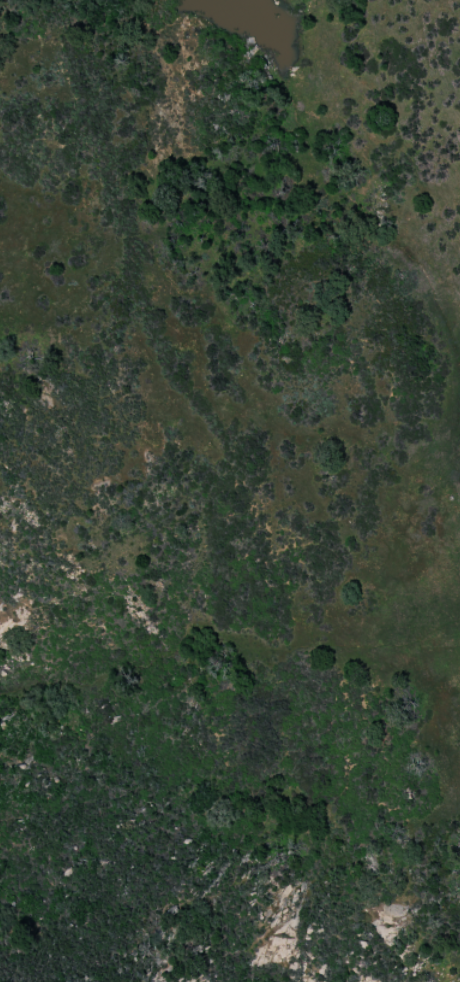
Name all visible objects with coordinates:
park: (230, 491)
road: (225, 638)

